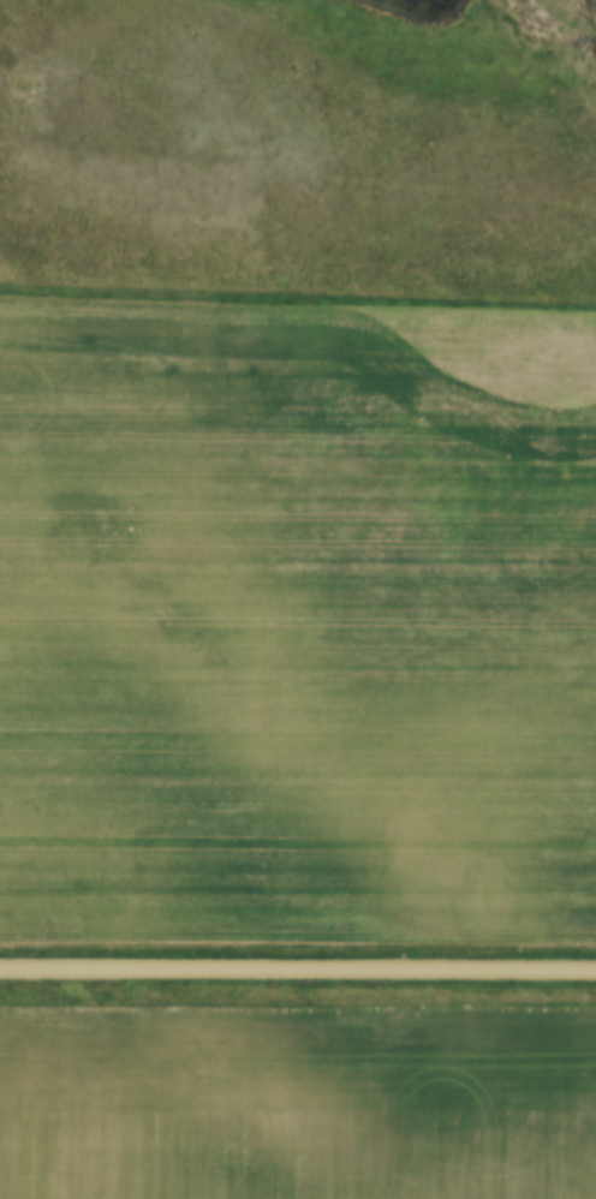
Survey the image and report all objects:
road: (297, 973)

